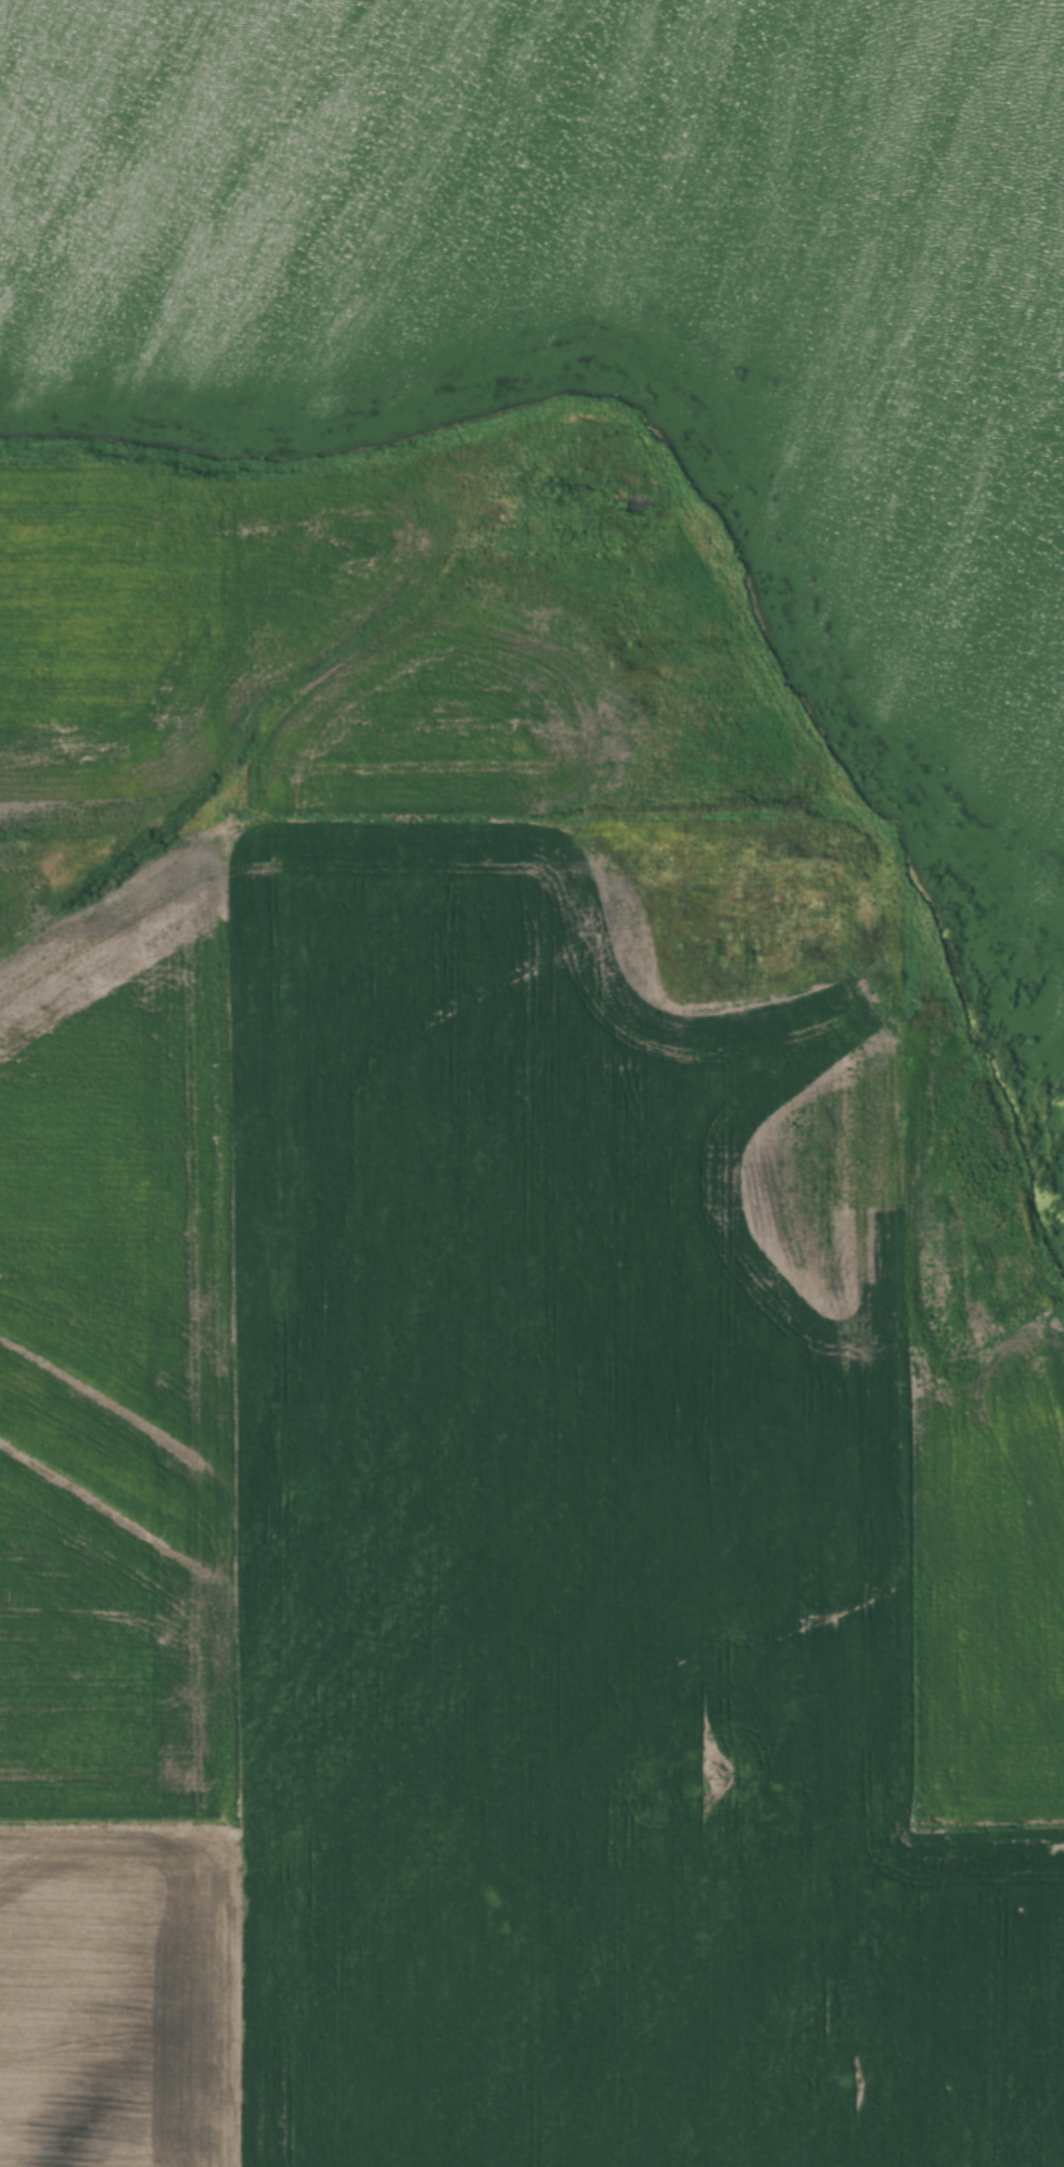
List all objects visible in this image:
crop: (120, 1999)

